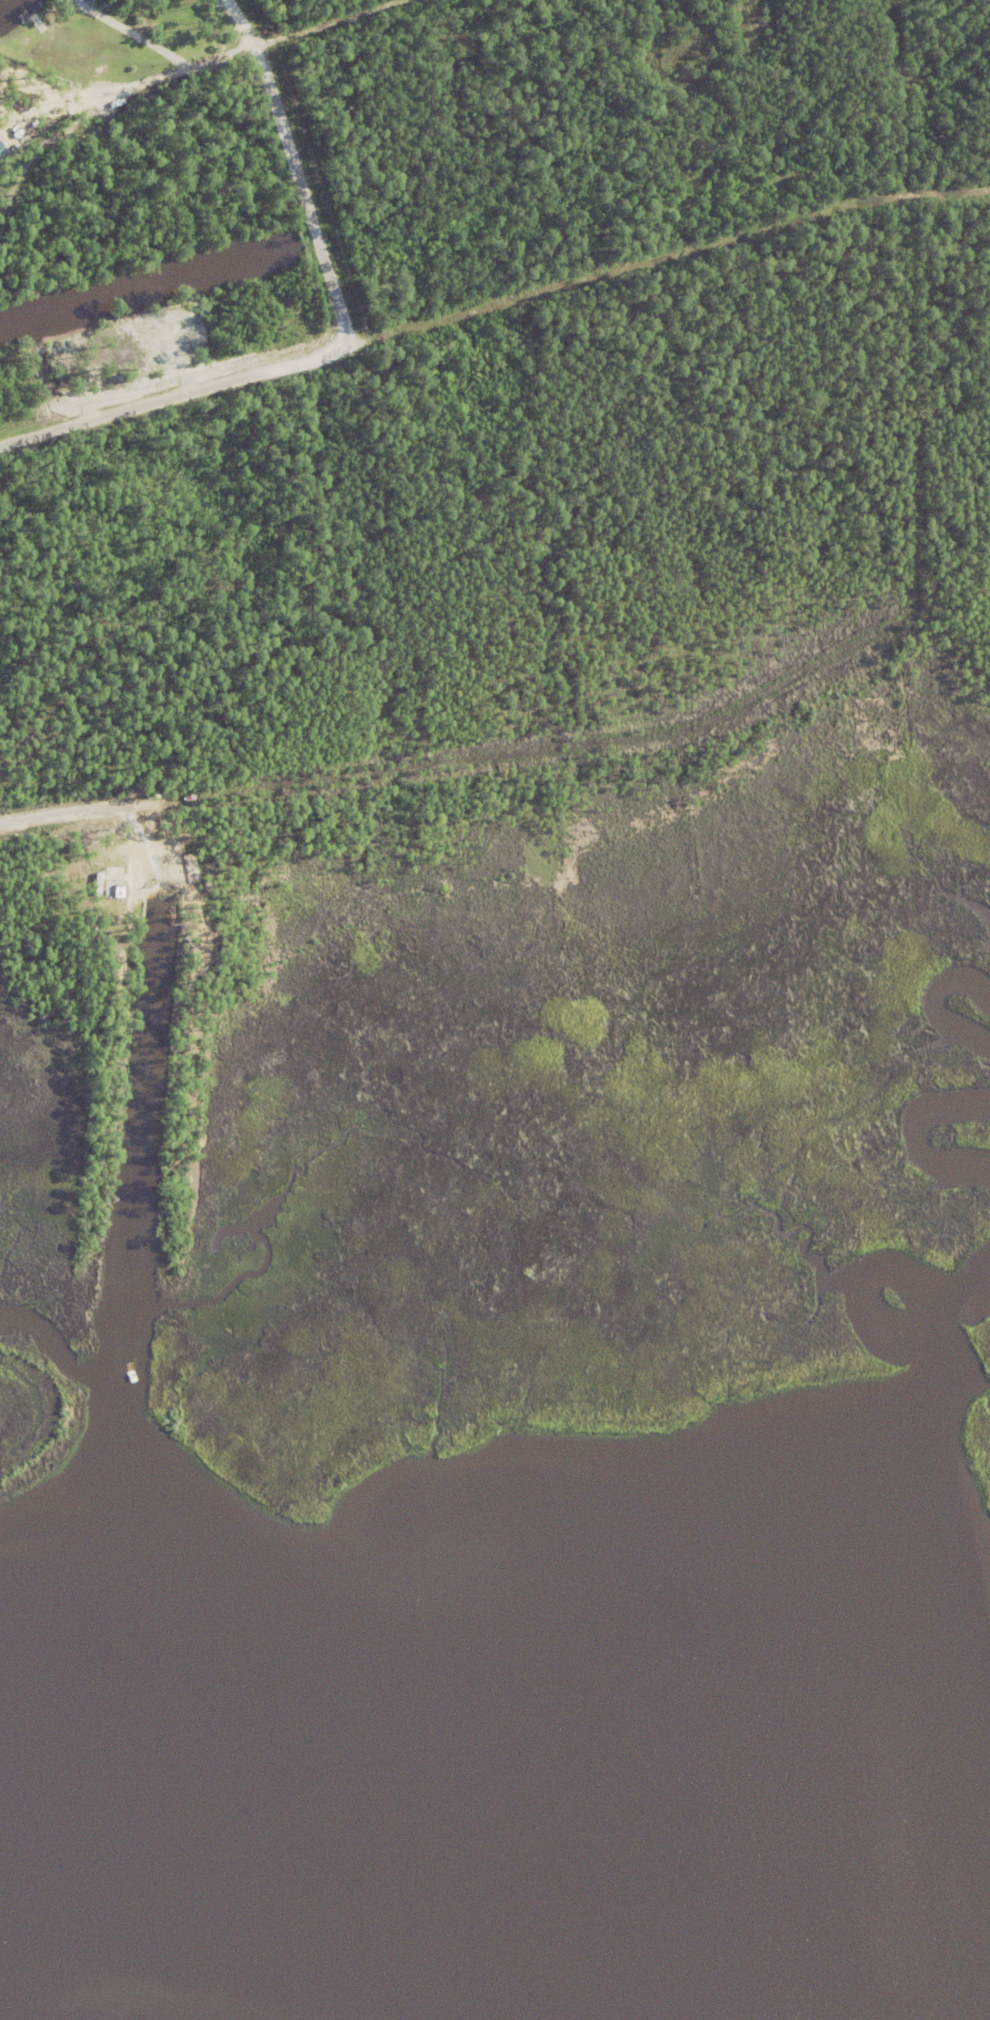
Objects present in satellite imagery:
road: (329, 24)
road: (685, 41)
road: (951, 54)
road: (472, 73)
road: (171, 74)
road: (296, 169)
road: (905, 201)
road: (493, 305)
road: (676, 513)
road: (400, 544)
road: (573, 746)
river: (263, 1970)

